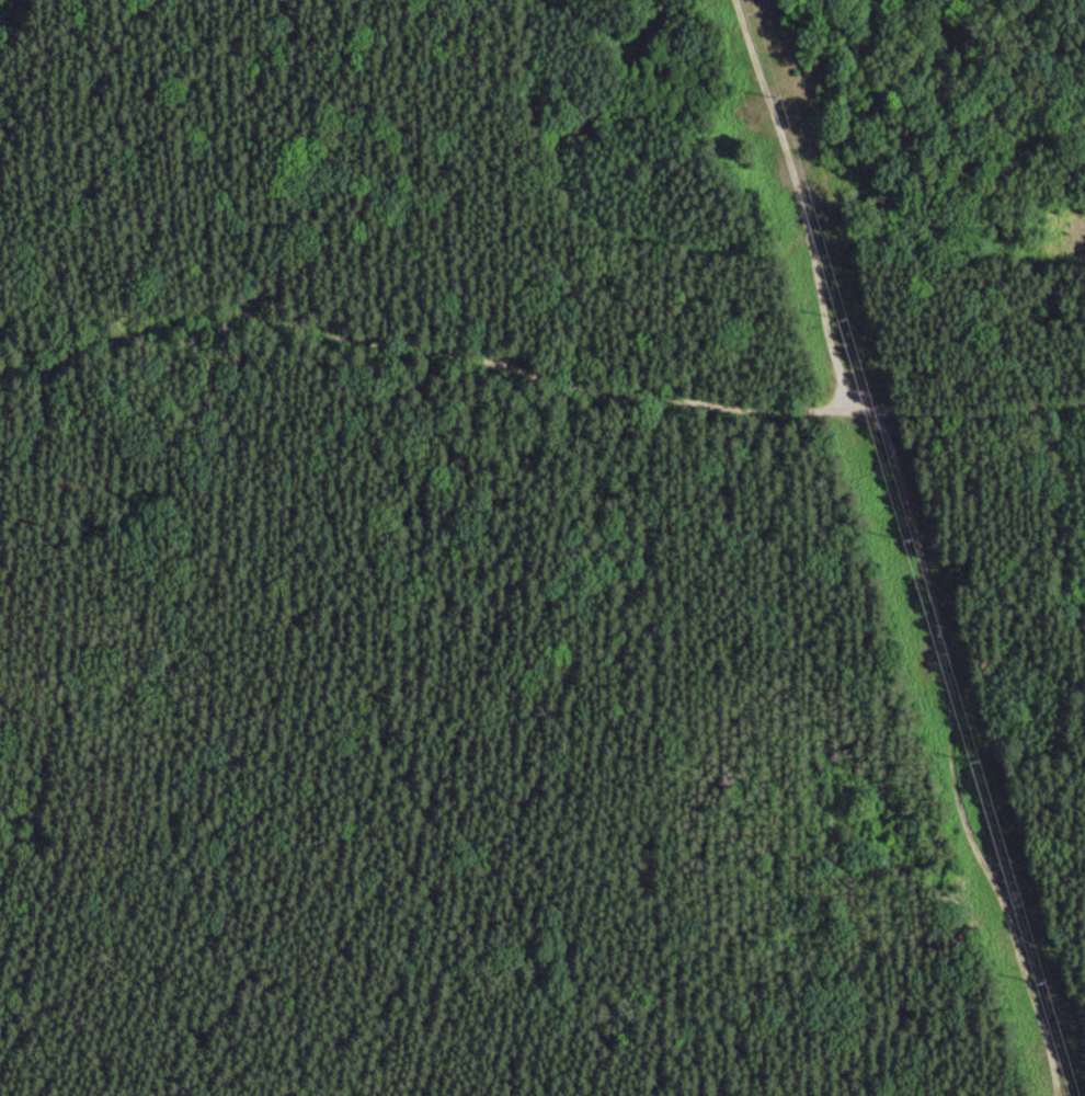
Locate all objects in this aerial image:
road: (1082, 8)
road: (824, 320)
road: (421, 354)
road: (966, 760)

